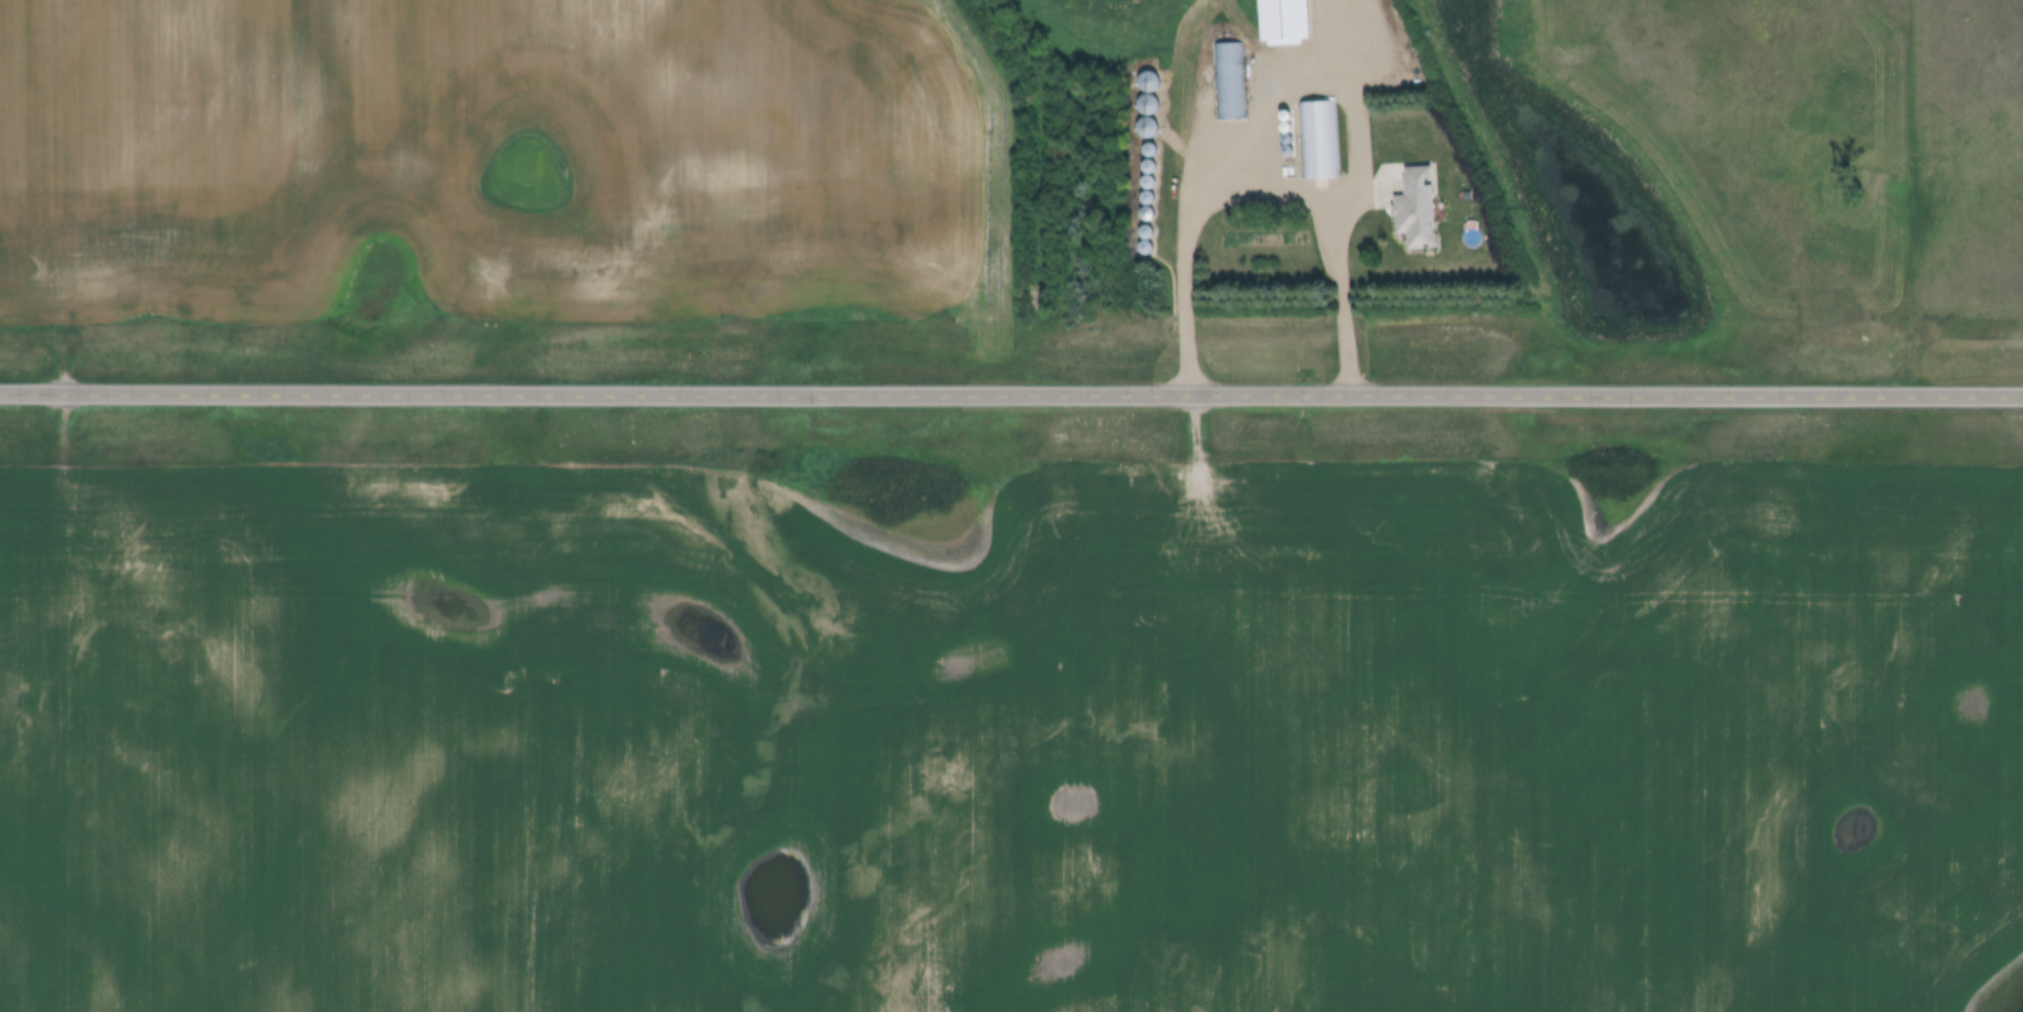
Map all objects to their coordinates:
building: (1284, 21)
building: (1230, 82)
road: (1279, 87)
building: (1148, 106)
building: (1319, 140)
road: (1266, 184)
building: (1416, 208)
road: (1011, 393)

